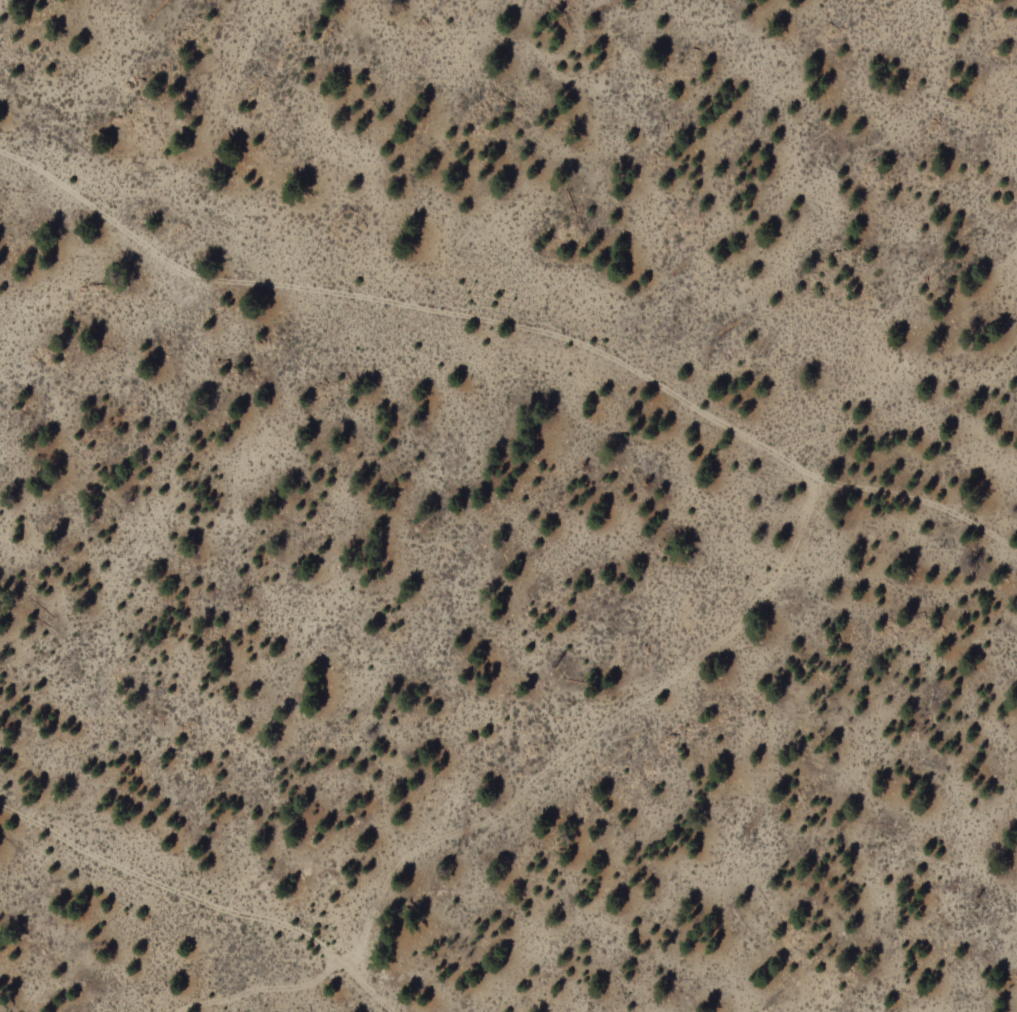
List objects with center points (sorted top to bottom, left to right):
road: (515, 327)
road: (203, 902)
road: (141, 936)

